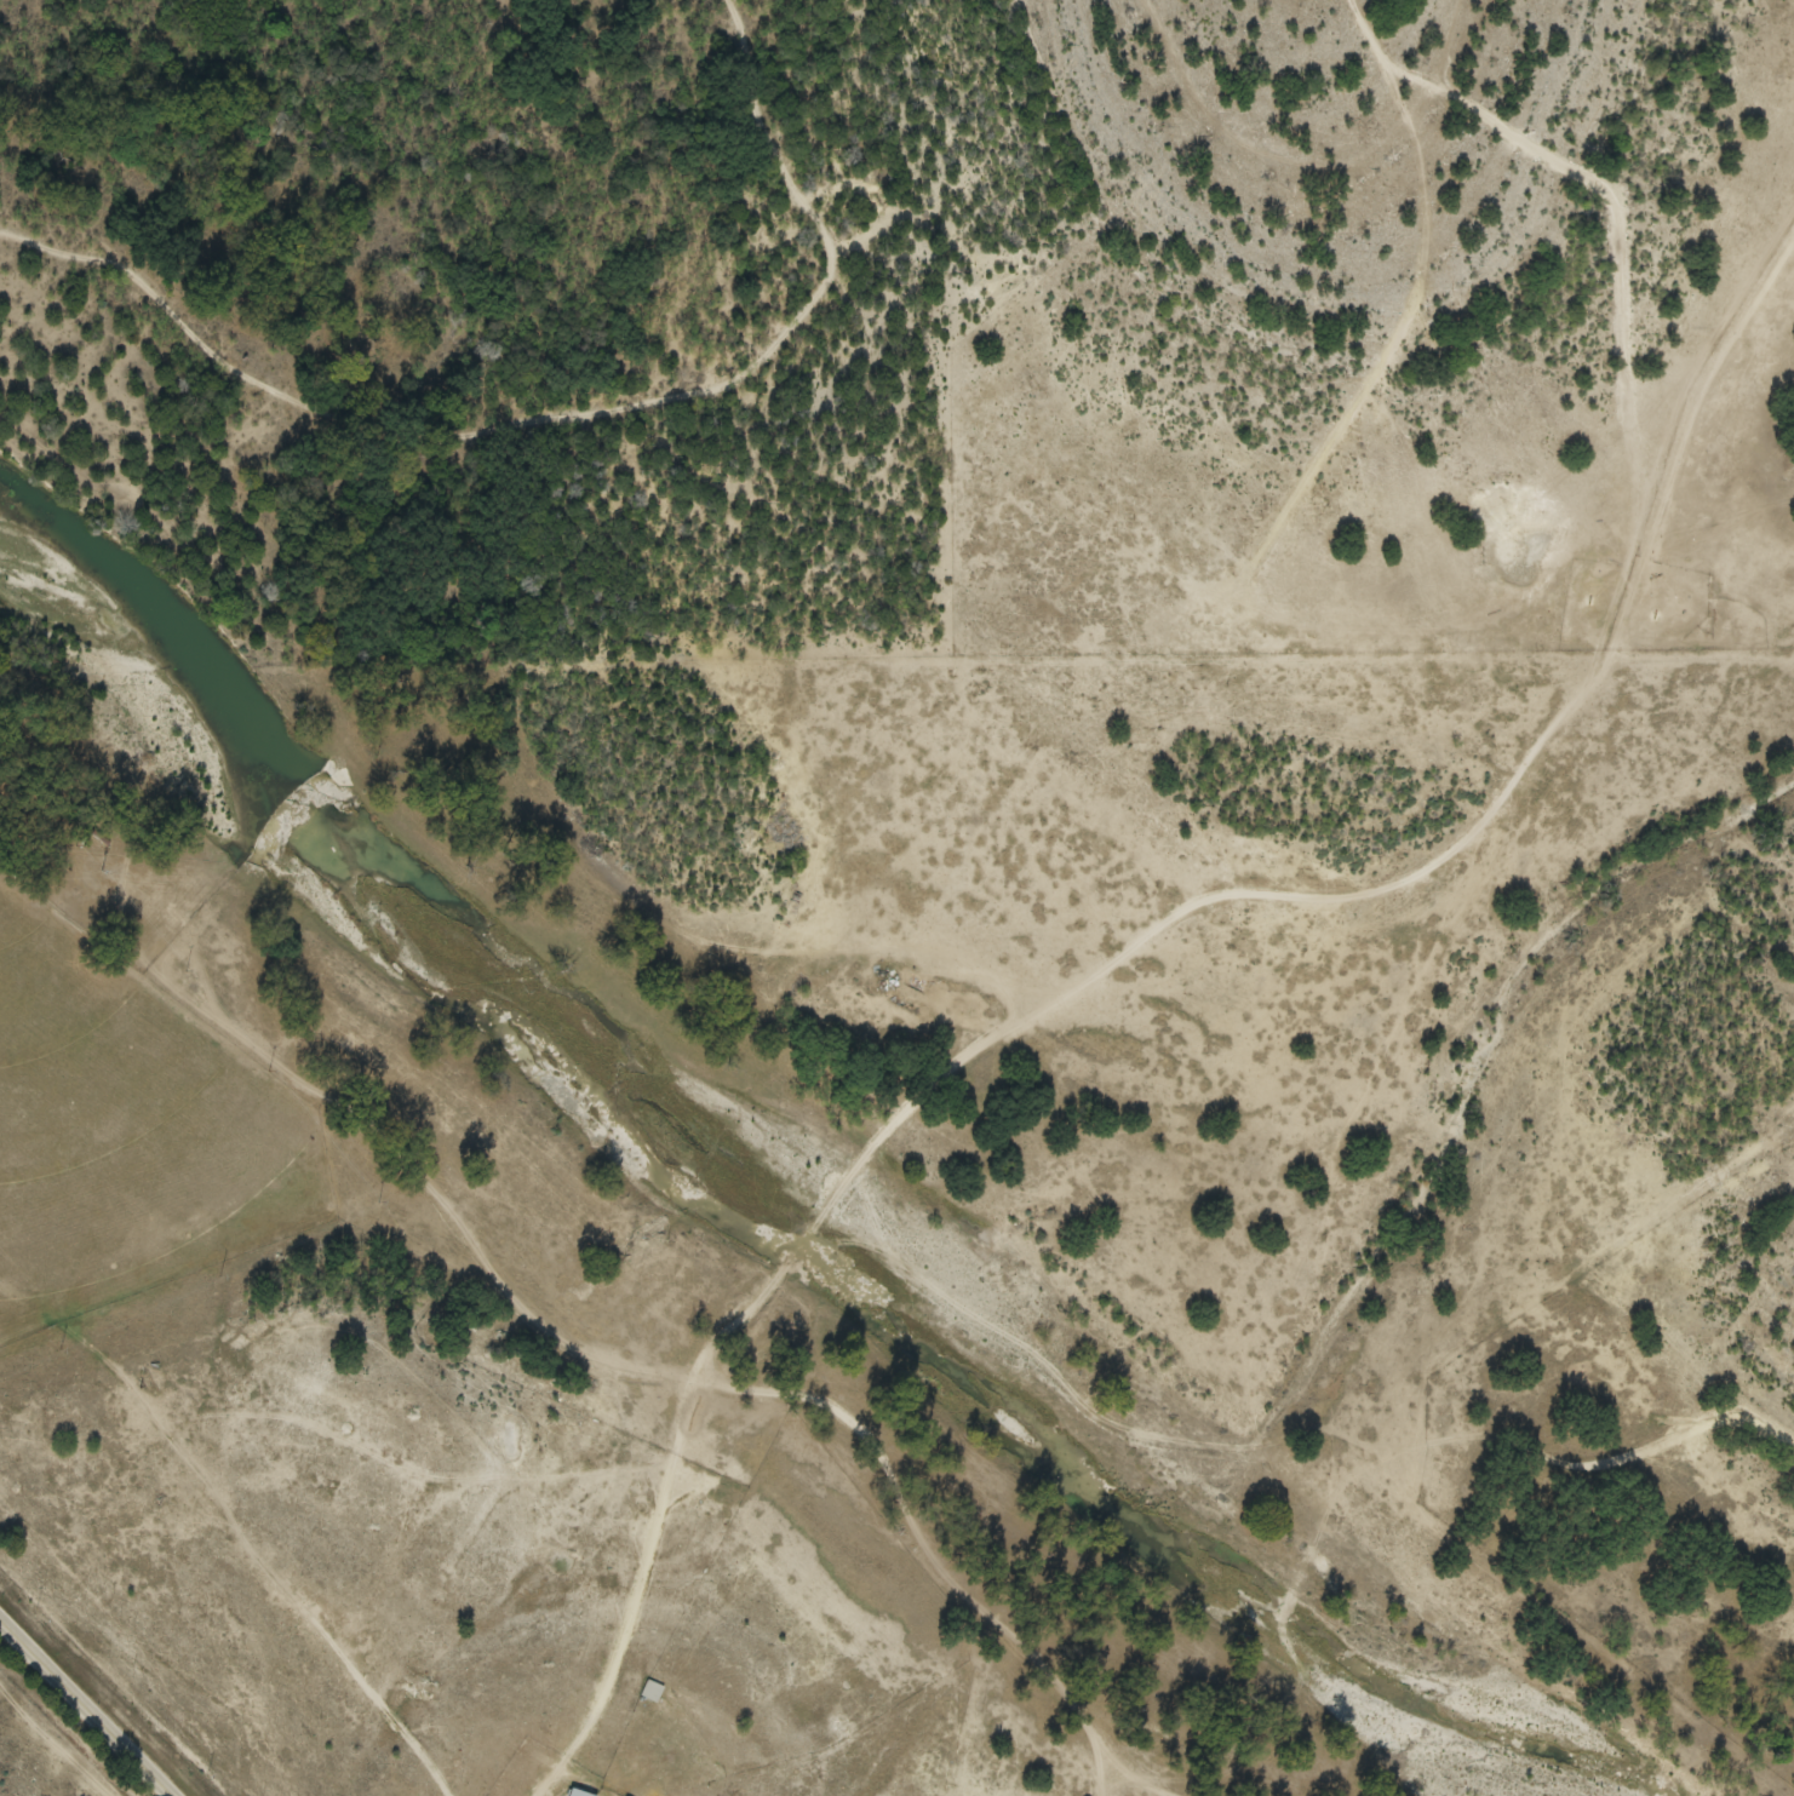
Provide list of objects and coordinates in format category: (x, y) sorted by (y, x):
building: (653, 1691)
road: (90, 1704)
building: (577, 1794)

